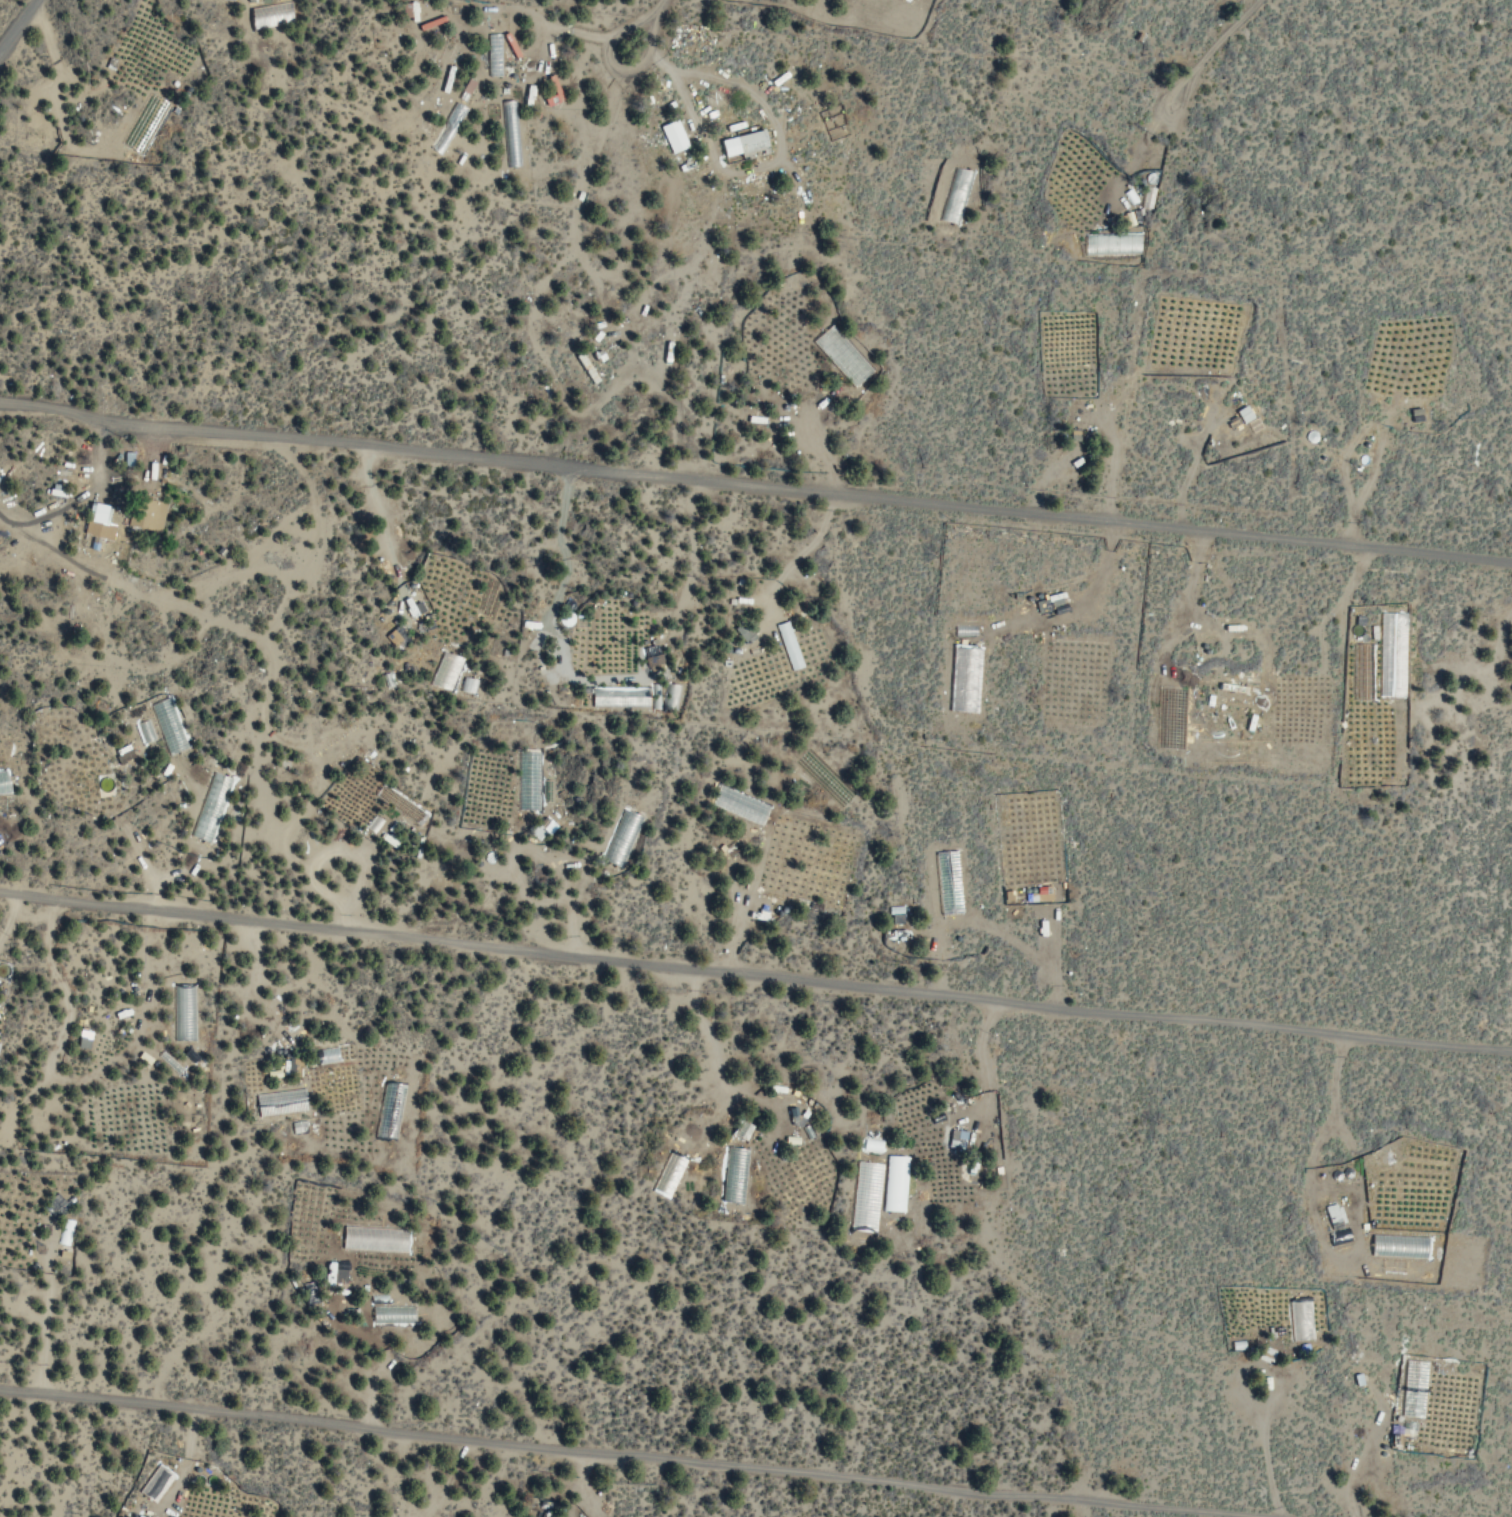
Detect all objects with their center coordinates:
building: (411, 11)
road: (18, 23)
road: (643, 28)
road: (1199, 57)
building: (445, 78)
building: (551, 91)
building: (509, 133)
building: (671, 136)
building: (743, 145)
building: (584, 367)
road: (754, 489)
building: (97, 521)
building: (393, 635)
building: (1361, 672)
building: (443, 673)
building: (625, 697)
building: (522, 782)
building: (399, 804)
building: (737, 804)
road: (755, 977)
building: (286, 1067)
building: (279, 1102)
building: (955, 1139)
building: (734, 1175)
building: (894, 1184)
building: (1333, 1215)
building: (332, 1274)
building: (392, 1314)
building: (1412, 1388)
road: (637, 1455)

